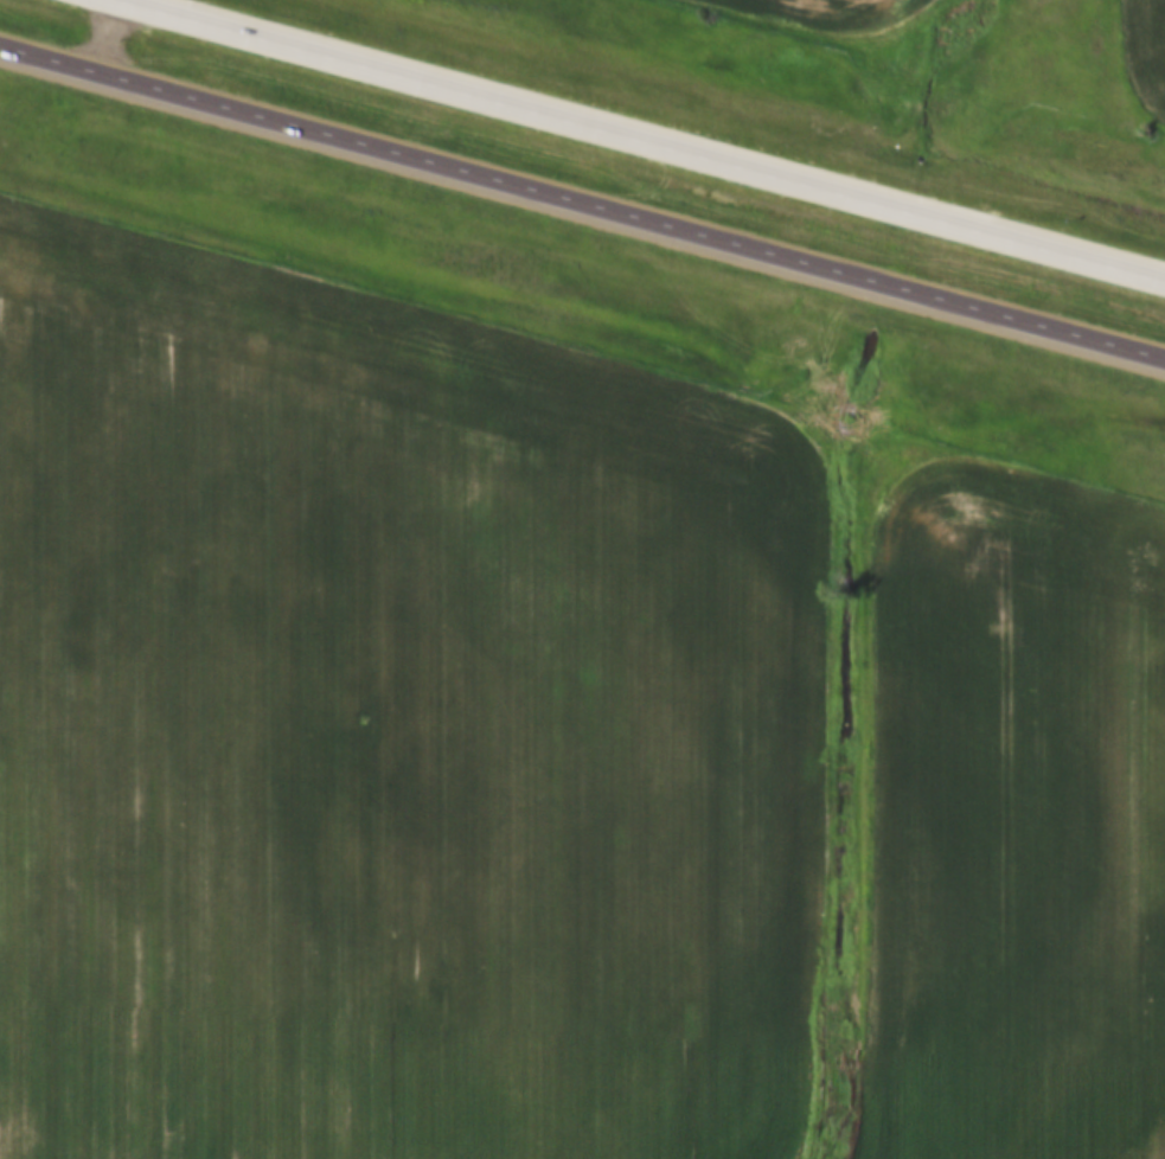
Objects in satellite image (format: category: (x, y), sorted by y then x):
road: (646, 139)
road: (582, 205)

